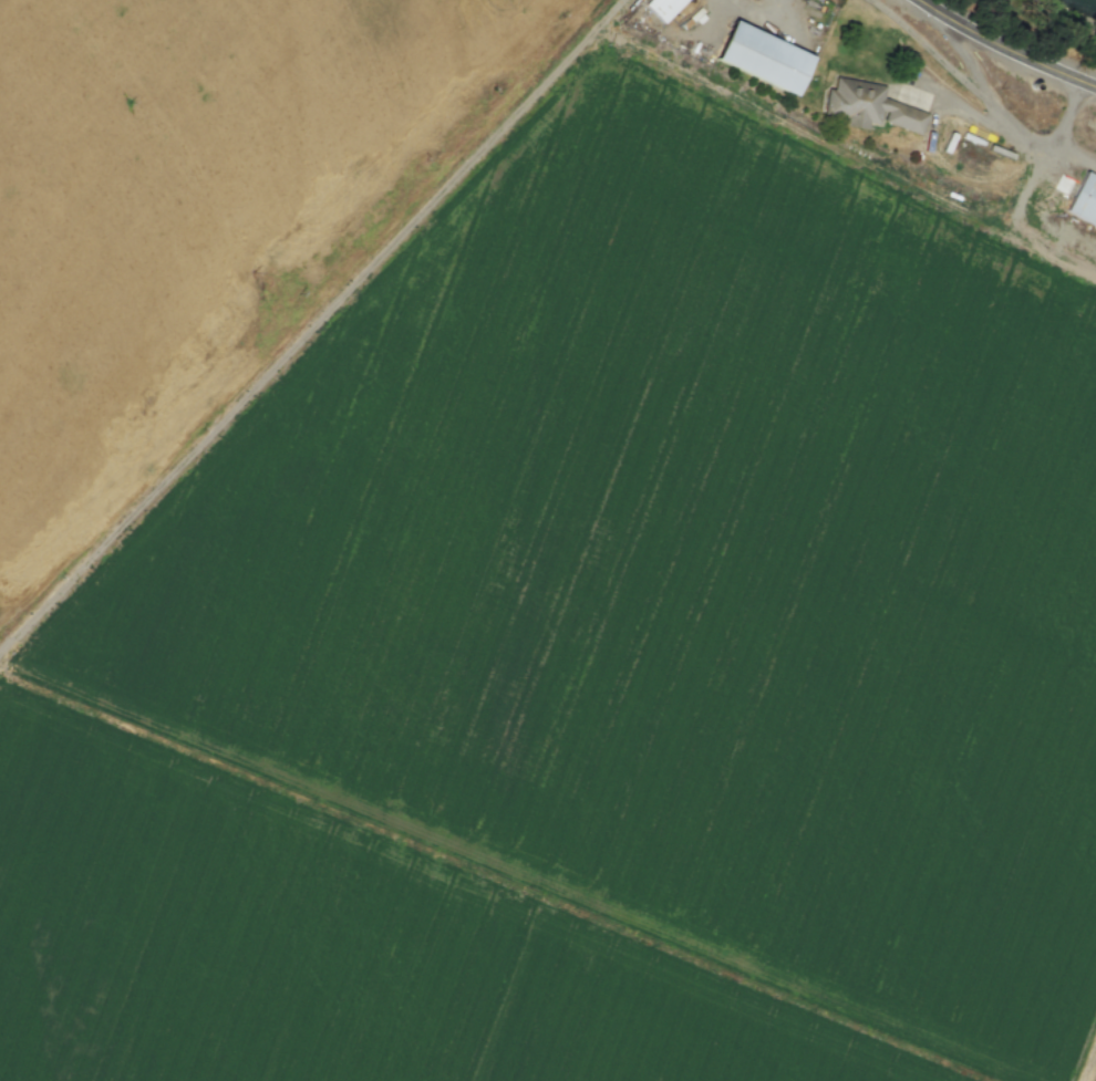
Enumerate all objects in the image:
building: (663, 7)
road: (757, 15)
road: (1005, 45)
building: (763, 56)
road: (964, 104)
building: (869, 105)
road: (1003, 118)
road: (1065, 153)
road: (1095, 163)
road: (1095, 163)
crop: (192, 191)
building: (1084, 200)

